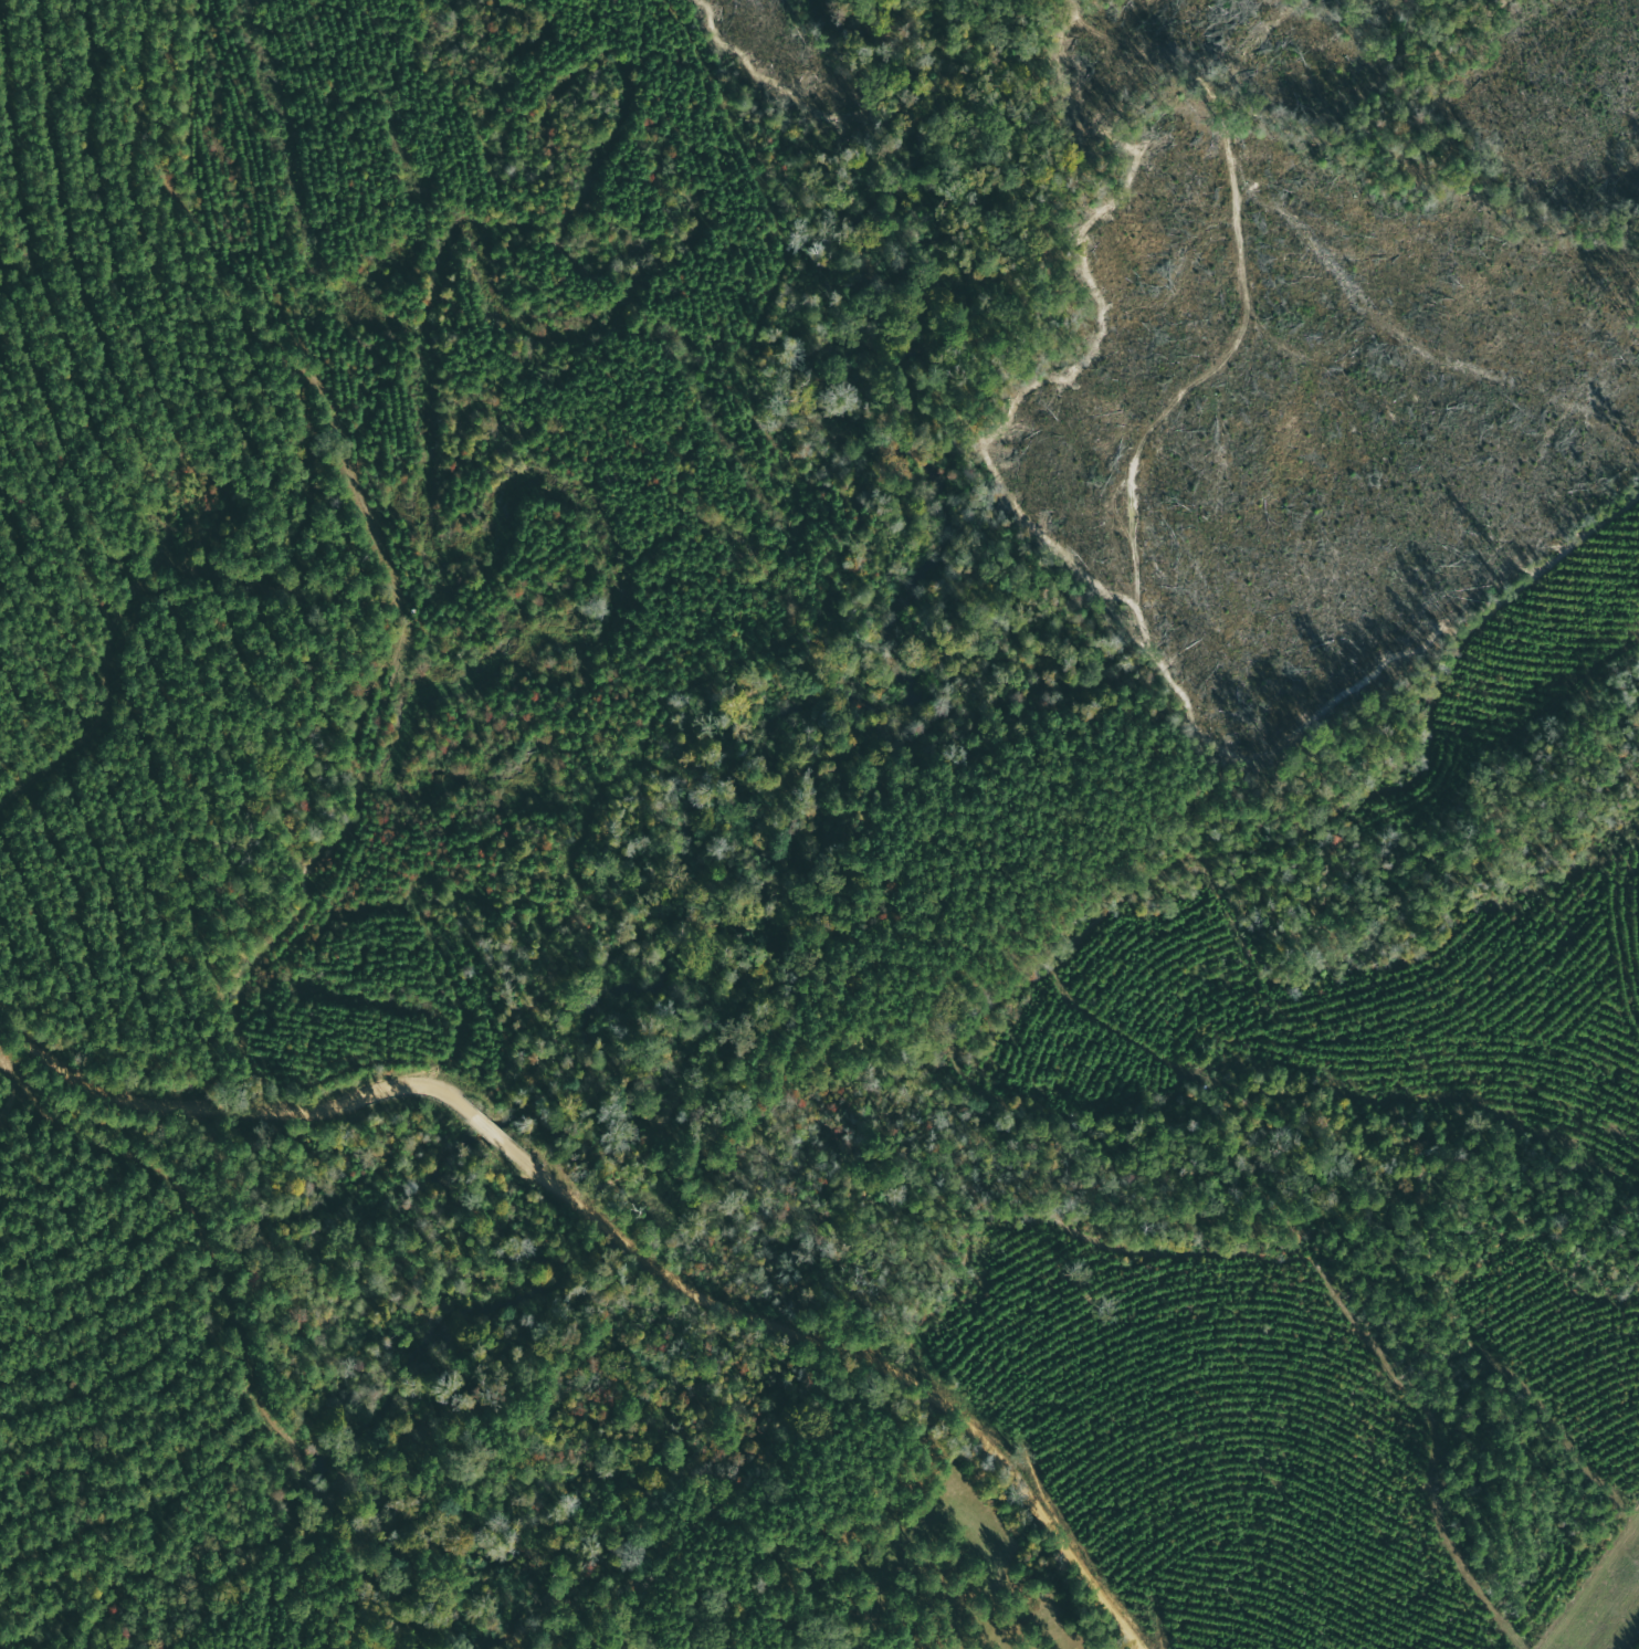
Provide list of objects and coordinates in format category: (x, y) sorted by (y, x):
road: (614, 1252)

